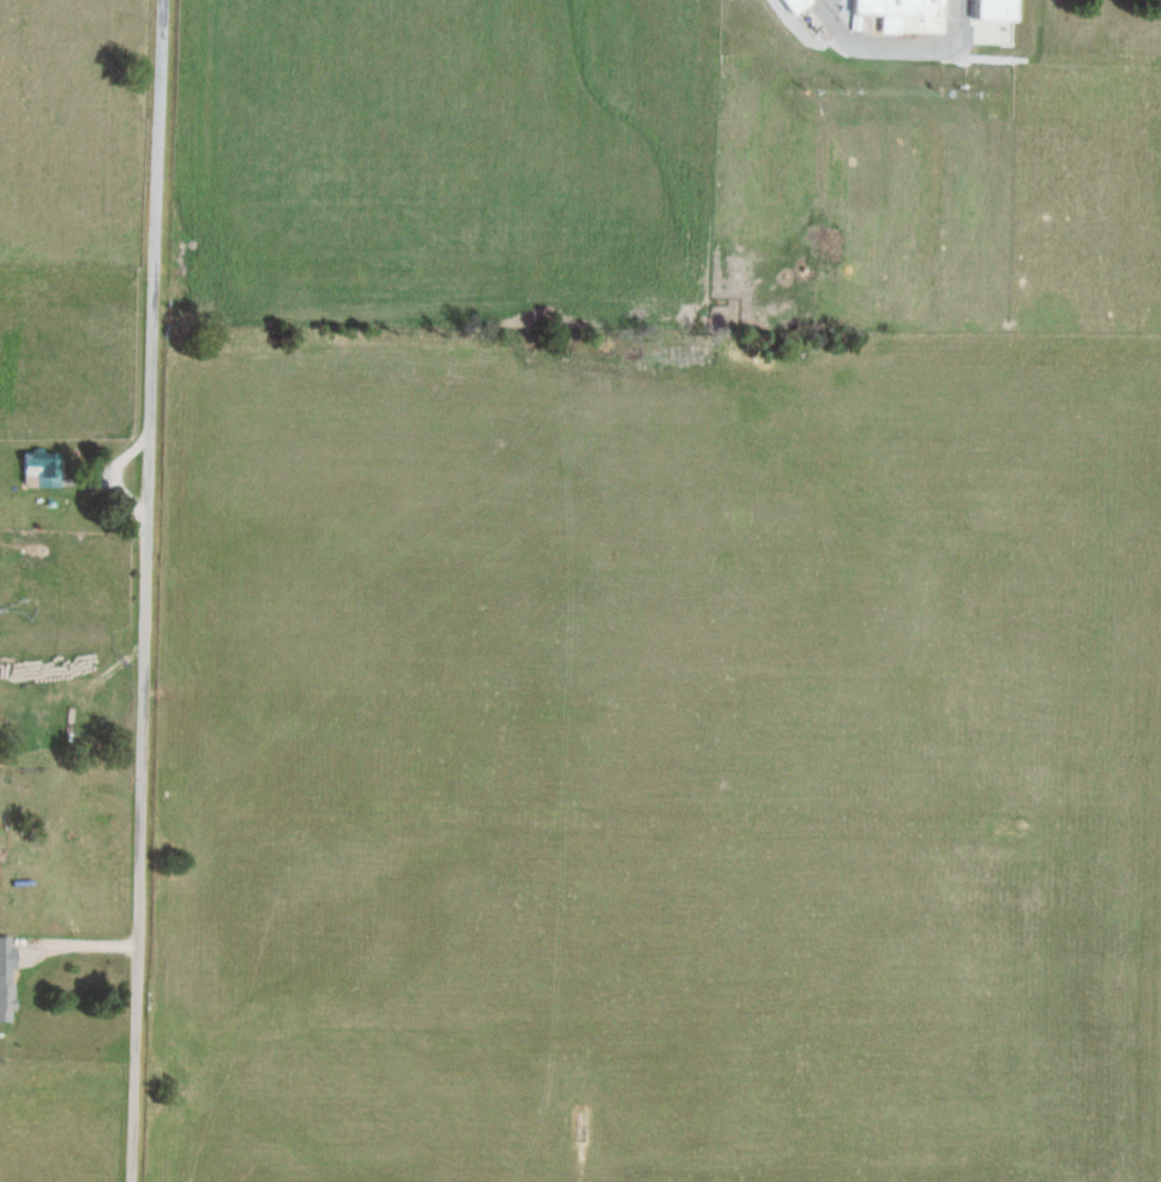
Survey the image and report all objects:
building: (793, 5)
building: (902, 14)
building: (991, 22)
building: (38, 470)
road: (146, 590)
road: (67, 945)
building: (4, 978)

